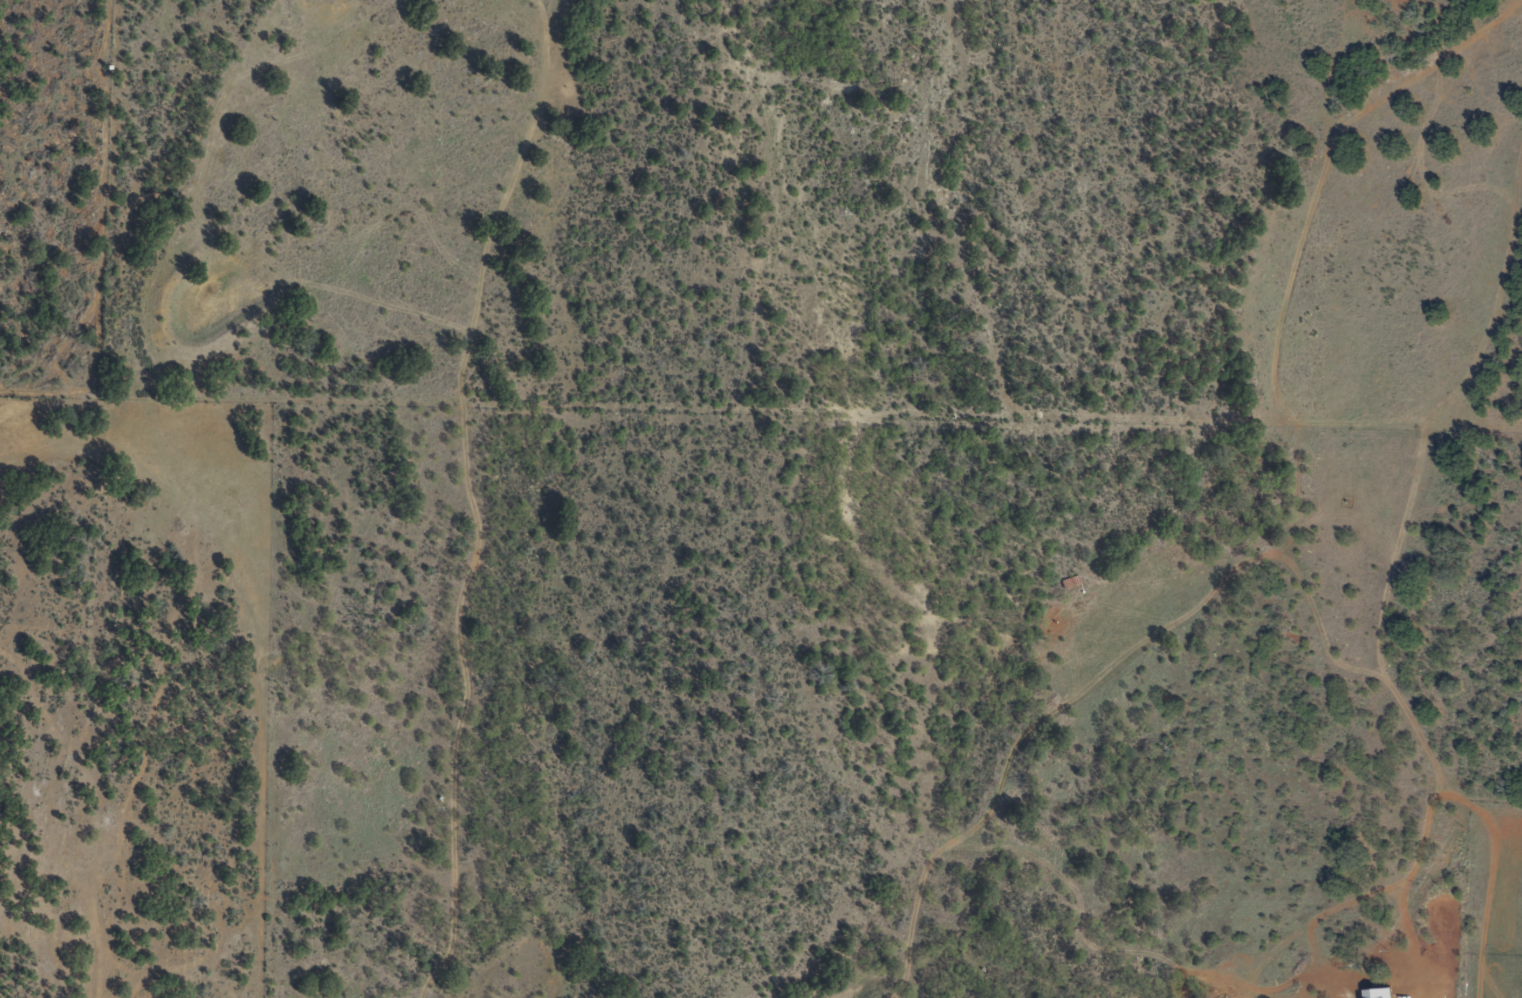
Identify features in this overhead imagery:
road: (419, 520)
road: (900, 854)

